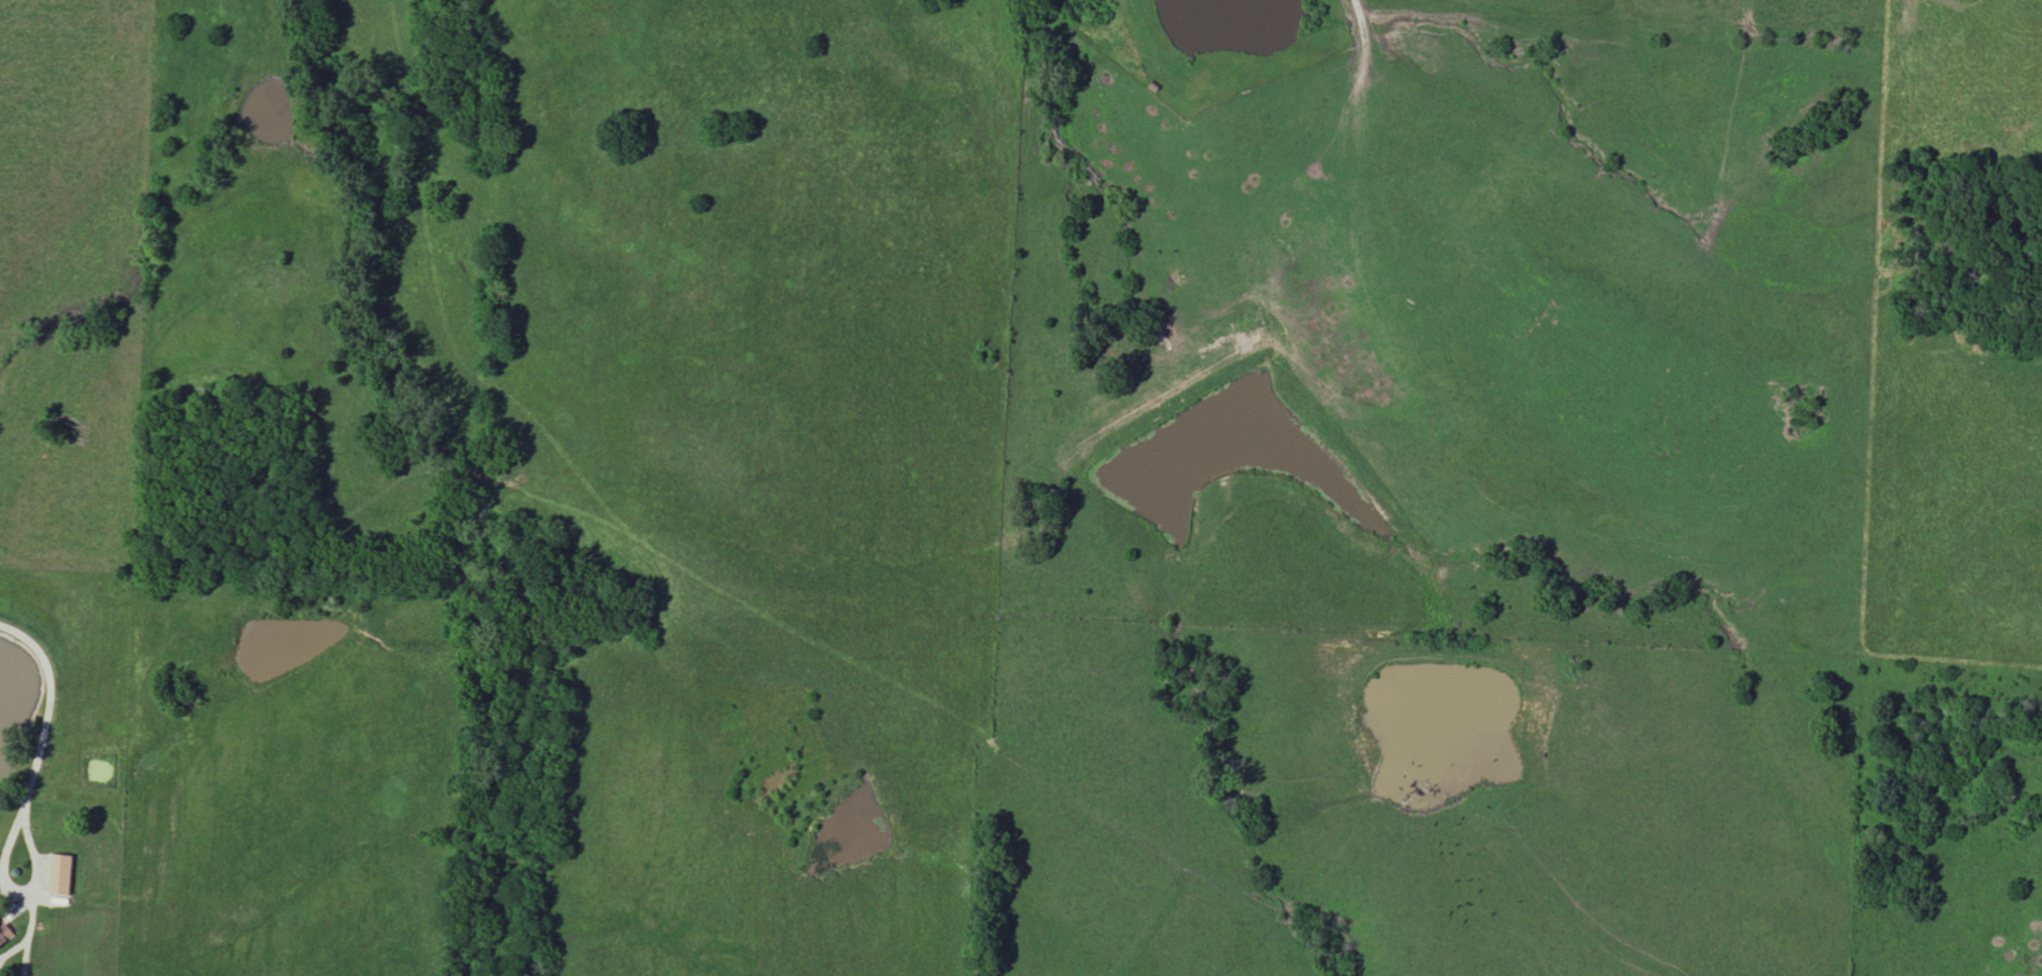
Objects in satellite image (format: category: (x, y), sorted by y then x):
road: (1358, 55)
road: (50, 710)
building: (62, 876)
road: (8, 892)
building: (3, 942)

